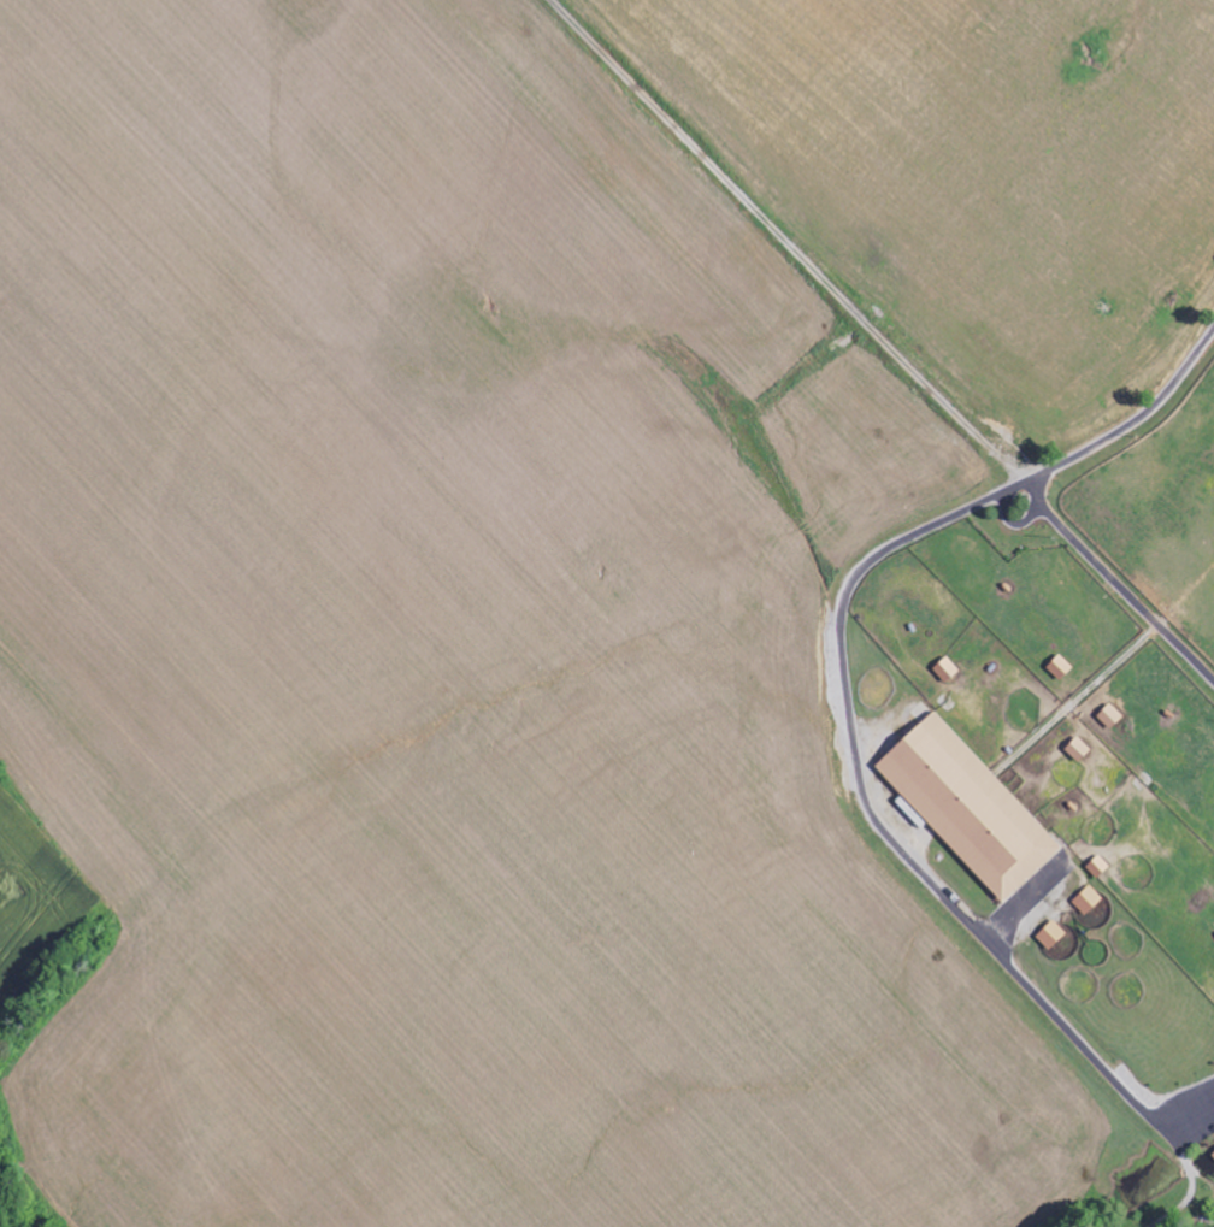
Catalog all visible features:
road: (1121, 438)
building: (1059, 667)
building: (945, 669)
building: (1078, 749)
building: (967, 806)
building: (1097, 866)
building: (1088, 899)
building: (1051, 934)
building: (1213, 1155)

